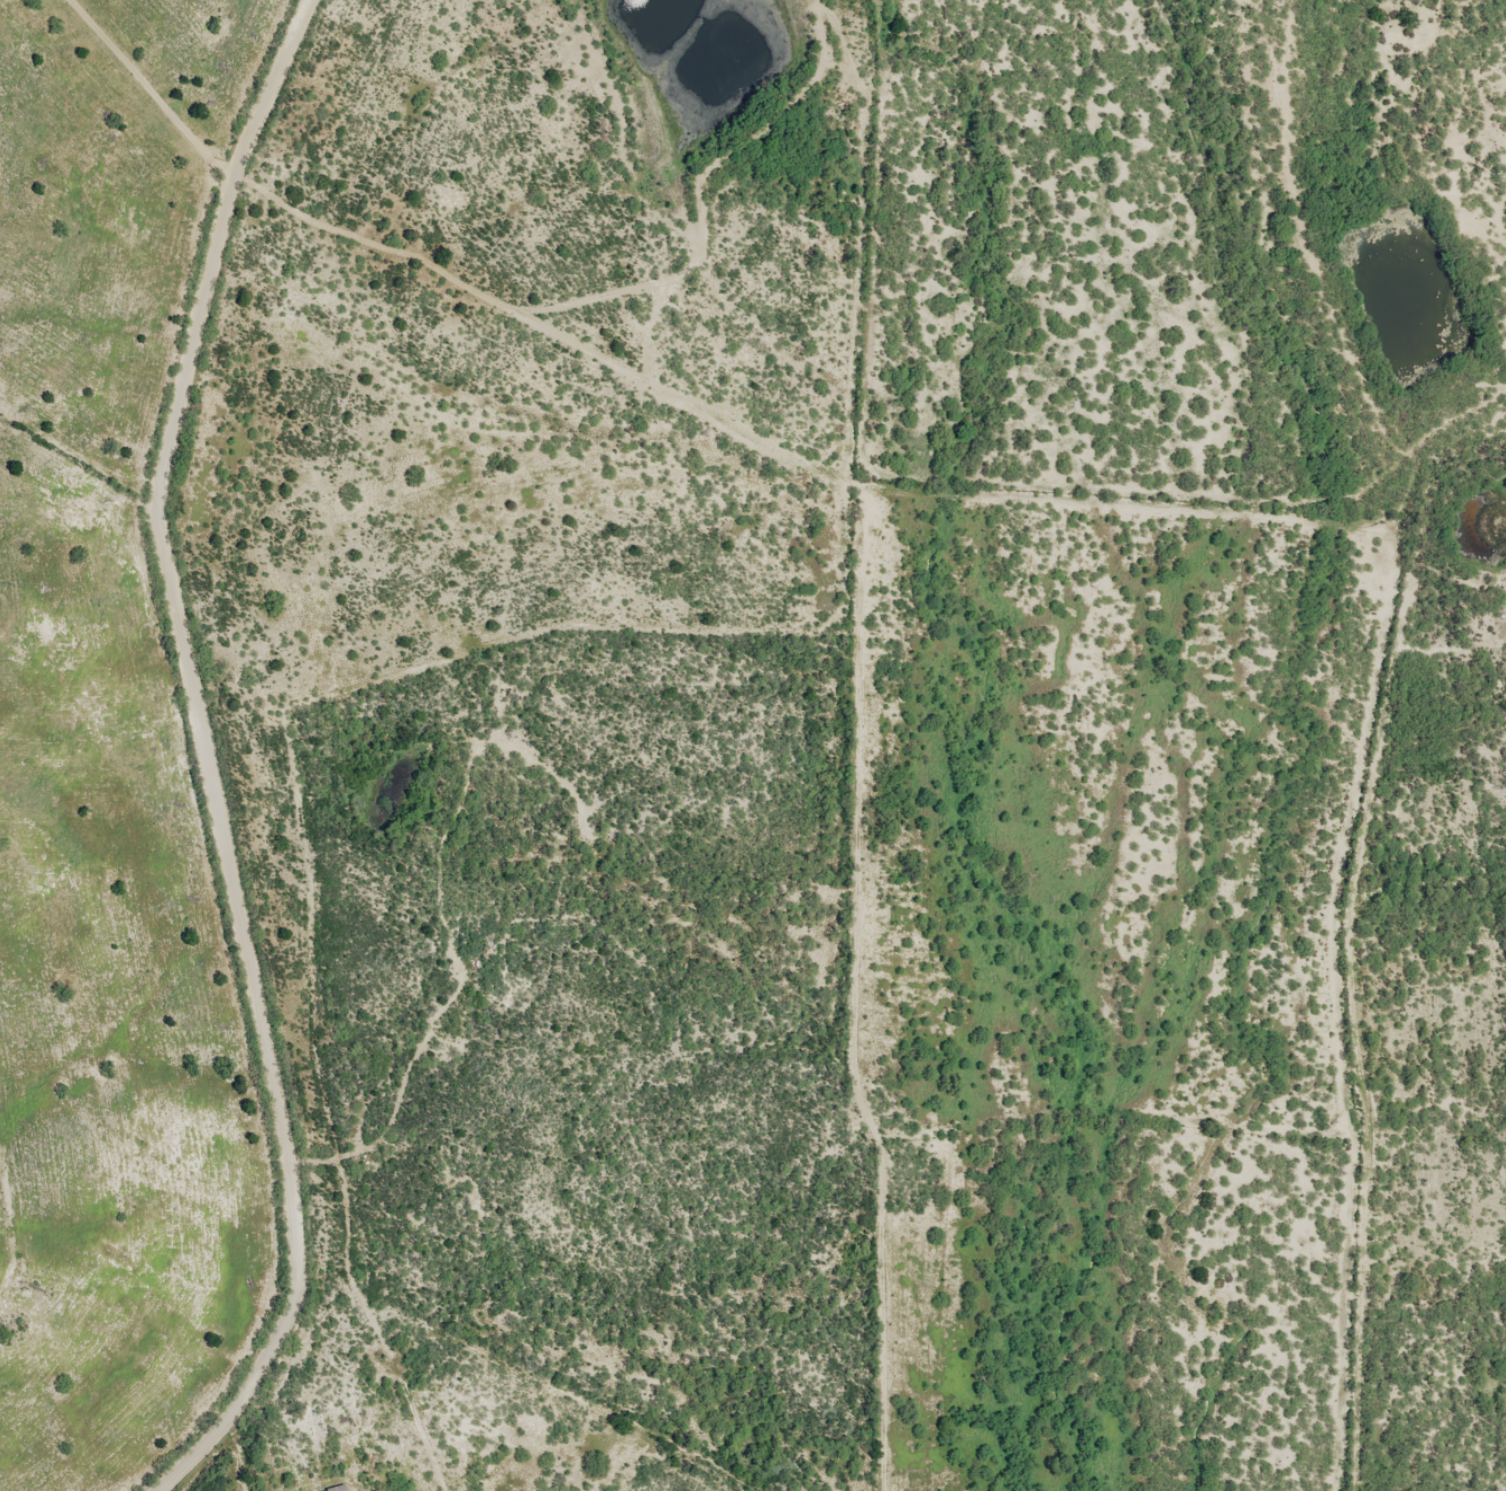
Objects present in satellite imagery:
road: (827, 0)
road: (123, 108)
road: (164, 763)
road: (349, 1363)
building: (335, 1489)

